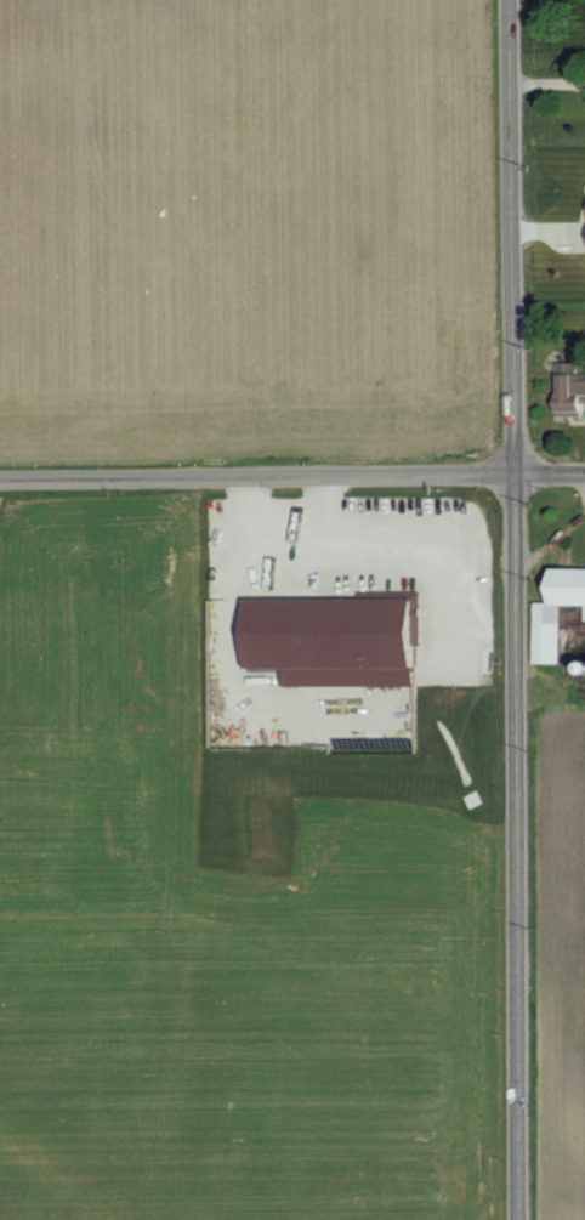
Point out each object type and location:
crop: (240, 226)
road: (509, 237)
building: (569, 388)
road: (549, 475)
road: (256, 477)
road: (580, 484)
road: (283, 524)
building: (556, 612)
road: (512, 847)

